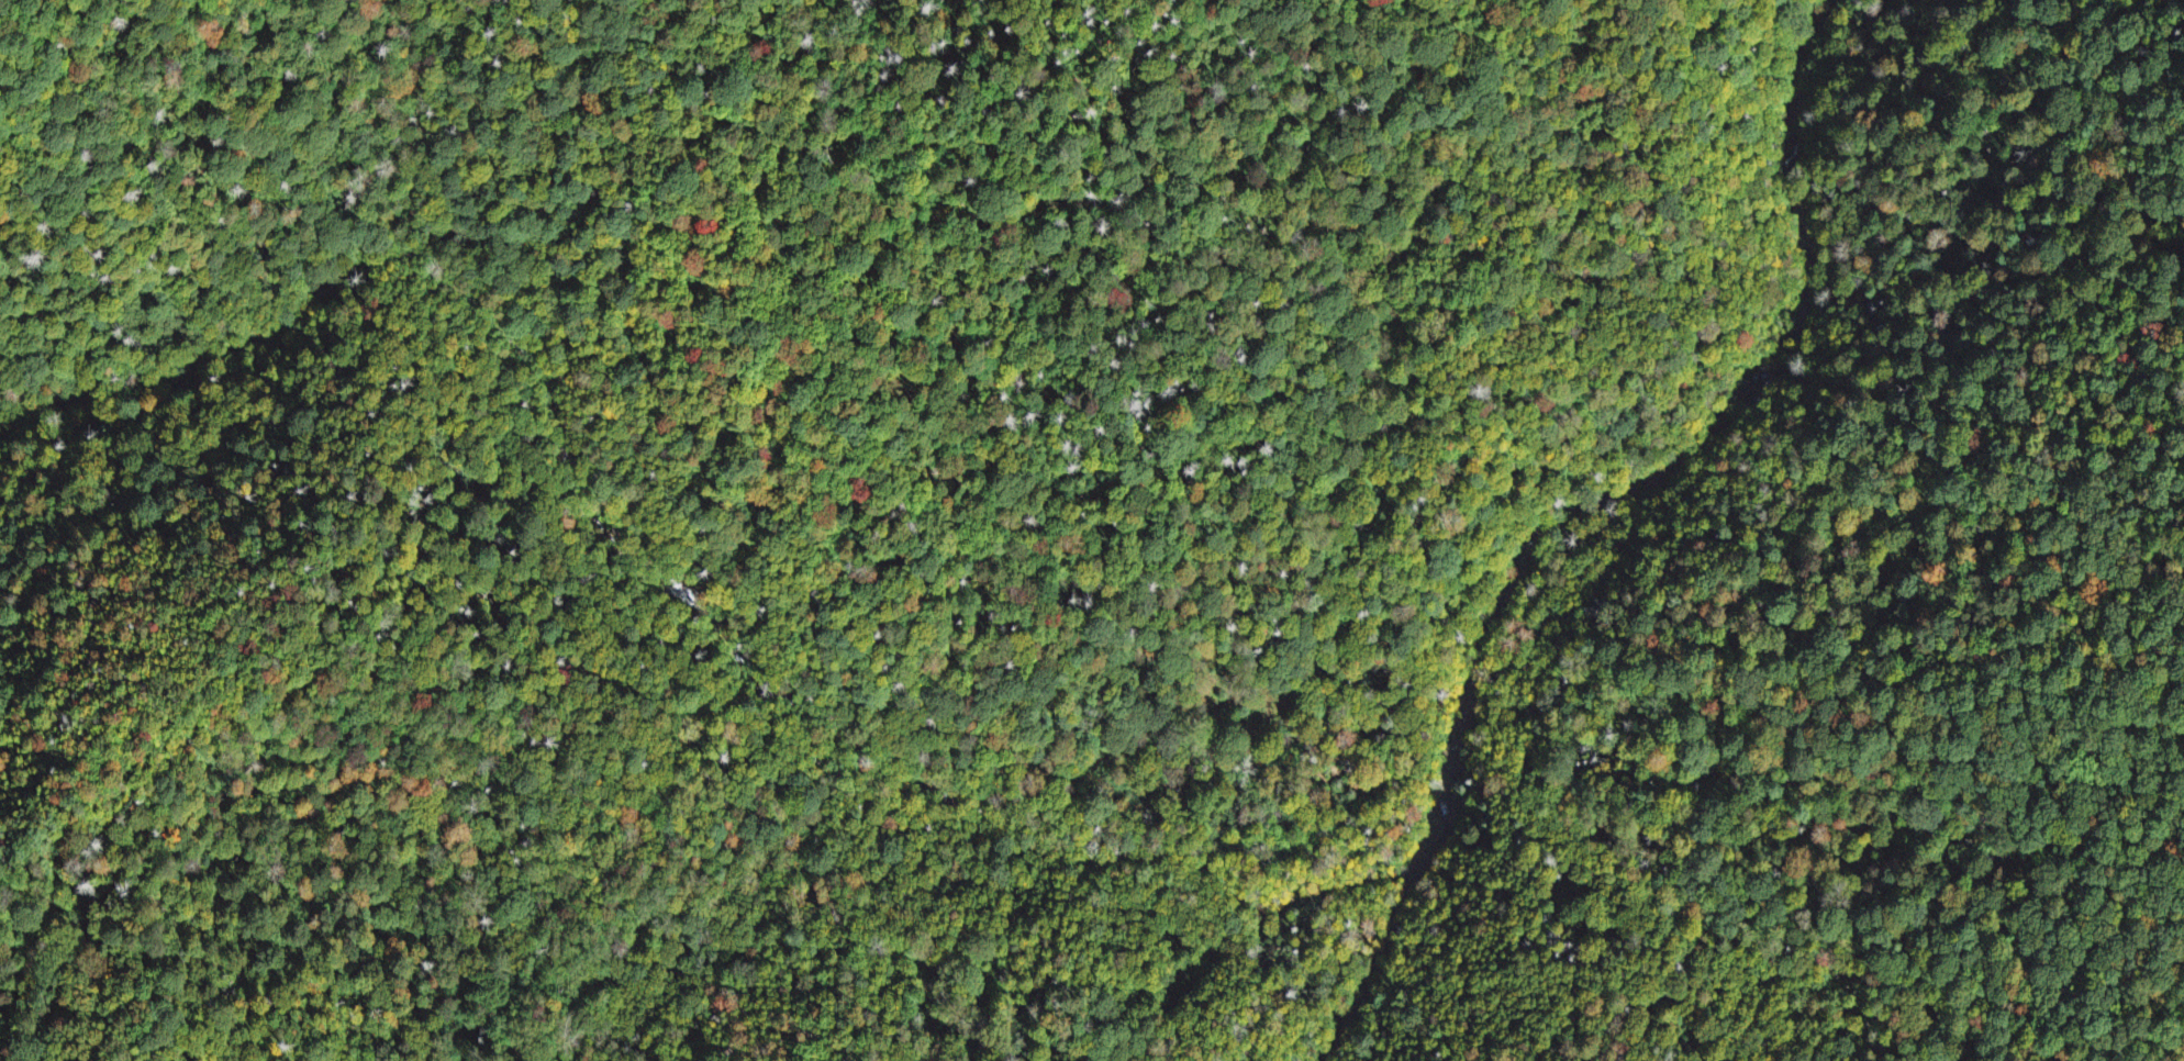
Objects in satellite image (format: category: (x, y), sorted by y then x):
river: (1675, 459)
road: (1590, 628)
road: (370, 815)
road: (2146, 1015)

